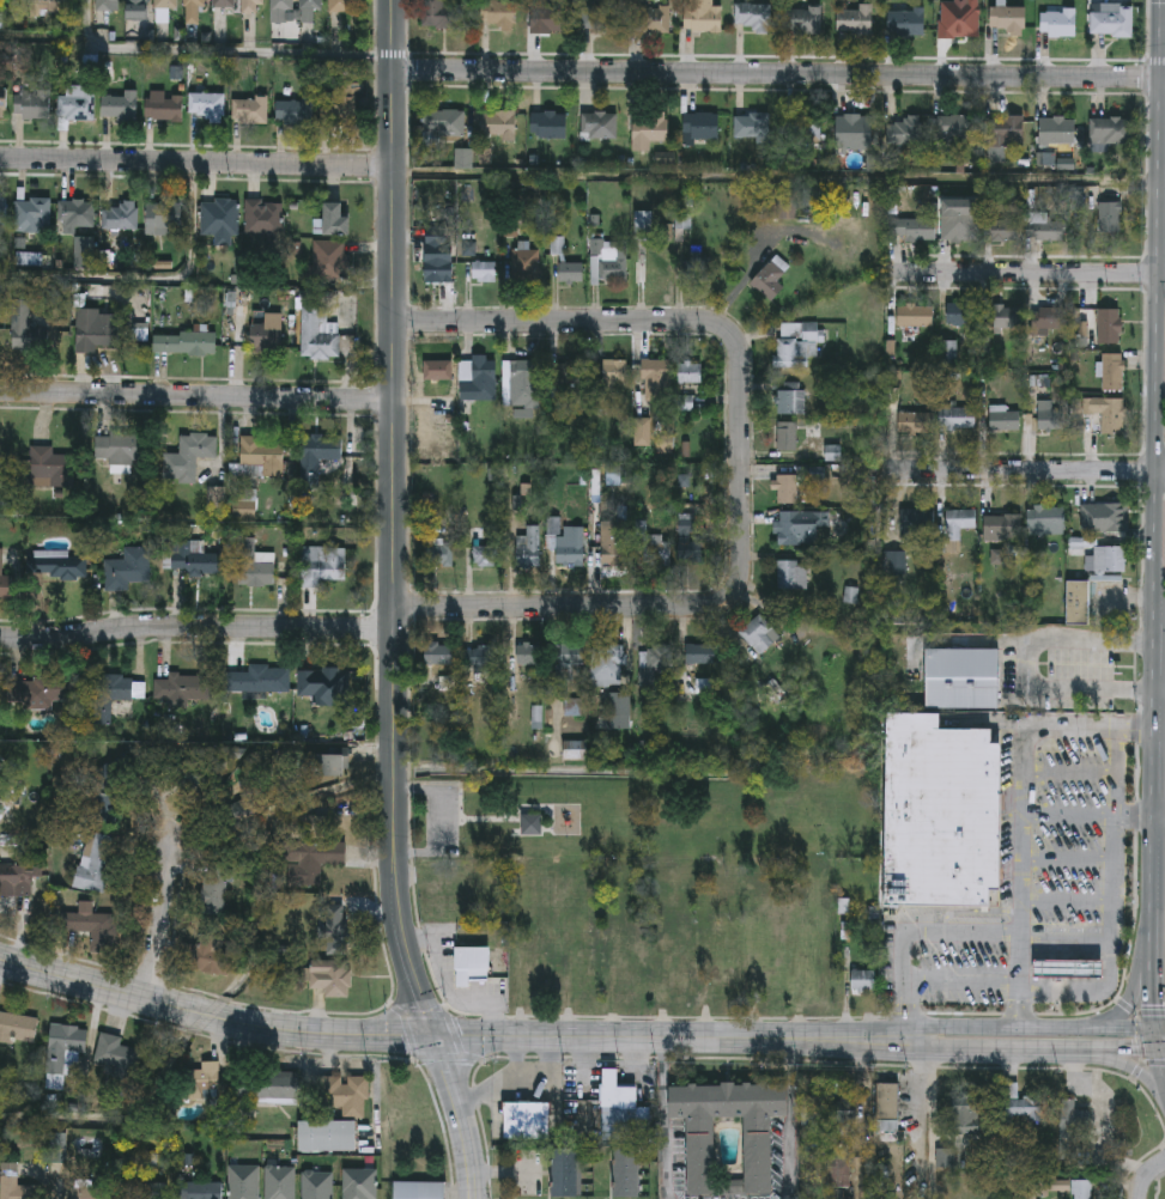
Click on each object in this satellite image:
building: (166, 4)
building: (224, 4)
building: (108, 5)
building: (136, 5)
building: (253, 6)
building: (283, 6)
building: (310, 6)
building: (340, 6)
building: (194, 11)
building: (499, 13)
building: (971, 13)
building: (447, 14)
road: (1157, 14)
building: (601, 16)
building: (554, 17)
building: (703, 17)
building: (753, 17)
building: (651, 18)
building: (855, 19)
building: (1008, 19)
building: (805, 20)
building: (1112, 20)
building: (906, 22)
building: (1058, 23)
road: (1160, 30)
road: (44, 39)
road: (219, 53)
road: (778, 69)
road: (1155, 92)
building: (2, 102)
building: (34, 104)
building: (208, 104)
building: (77, 106)
building: (120, 106)
building: (340, 106)
building: (165, 109)
building: (250, 109)
building: (298, 110)
building: (445, 123)
building: (499, 124)
building: (551, 124)
building: (599, 124)
building: (702, 126)
building: (752, 126)
building: (803, 126)
building: (855, 127)
building: (955, 128)
building: (1007, 128)
building: (649, 130)
building: (905, 130)
building: (1058, 130)
building: (1111, 130)
road: (195, 163)
road: (773, 177)
road: (1154, 182)
building: (1081, 197)
road: (1159, 208)
building: (4, 211)
building: (34, 212)
building: (121, 215)
building: (219, 217)
building: (1110, 217)
building: (164, 218)
building: (263, 218)
building: (333, 221)
building: (80, 227)
building: (964, 227)
building: (1048, 227)
building: (917, 230)
building: (1003, 230)
building: (330, 260)
building: (608, 261)
building: (523, 263)
building: (656, 266)
building: (698, 266)
building: (439, 268)
building: (484, 270)
building: (571, 272)
road: (1029, 272)
building: (770, 279)
road: (151, 282)
building: (963, 314)
building: (916, 315)
building: (1008, 316)
building: (20, 317)
building: (1050, 318)
building: (1110, 325)
building: (104, 331)
building: (60, 333)
building: (318, 334)
building: (267, 336)
building: (184, 343)
building: (796, 345)
building: (437, 369)
building: (690, 371)
building: (1112, 371)
building: (569, 373)
building: (483, 381)
building: (656, 381)
building: (522, 383)
building: (608, 383)
road: (195, 396)
building: (790, 397)
road: (1154, 412)
building: (1106, 413)
building: (1050, 415)
building: (958, 418)
building: (1005, 419)
building: (916, 422)
building: (643, 431)
building: (787, 436)
building: (120, 448)
building: (262, 455)
building: (189, 457)
building: (320, 458)
road: (739, 463)
road: (1026, 467)
building: (51, 468)
building: (787, 489)
building: (1106, 518)
building: (1045, 519)
building: (959, 522)
building: (917, 523)
building: (794, 525)
building: (1002, 527)
building: (566, 542)
building: (614, 543)
building: (528, 548)
building: (656, 550)
building: (691, 552)
building: (439, 553)
building: (486, 555)
building: (194, 559)
building: (1110, 560)
building: (56, 565)
building: (251, 565)
building: (322, 565)
building: (128, 568)
building: (793, 574)
building: (5, 583)
road: (1128, 598)
building: (1078, 603)
road: (393, 604)
road: (196, 627)
building: (760, 633)
building: (527, 653)
building: (702, 653)
road: (1154, 653)
building: (439, 655)
building: (480, 658)
building: (660, 658)
building: (568, 659)
road: (1026, 663)
building: (608, 664)
road: (551, 674)
building: (961, 677)
building: (259, 678)
building: (323, 683)
building: (192, 687)
road: (1159, 689)
building: (47, 690)
building: (116, 695)
road: (1154, 754)
building: (107, 801)
building: (241, 808)
building: (941, 812)
road: (1135, 817)
road: (1159, 818)
building: (532, 823)
building: (311, 860)
building: (97, 862)
building: (17, 875)
road: (1020, 878)
park: (653, 883)
building: (217, 888)
road: (1114, 905)
road: (159, 923)
road: (1153, 923)
building: (90, 927)
building: (336, 929)
building: (212, 955)
building: (472, 966)
building: (1068, 970)
gas station: (1068, 970)
building: (330, 978)
building: (679, 978)
building: (635, 981)
building: (863, 981)
road: (1019, 982)
road: (1128, 993)
road: (1030, 1027)
traffic signals: (1151, 1027)
road: (1158, 1027)
building: (18, 1029)
traffic signals: (435, 1037)
road: (450, 1037)
road: (1152, 1039)
road: (1031, 1049)
traffic signals: (1154, 1051)
road: (1159, 1051)
building: (66, 1052)
road: (516, 1058)
building: (116, 1059)
road: (1128, 1066)
road: (1159, 1072)
road: (522, 1078)
building: (201, 1083)
building: (269, 1087)
building: (346, 1095)
building: (813, 1109)
building: (887, 1109)
building: (1025, 1110)
building: (619, 1112)
building: (965, 1116)
road: (665, 1119)
road: (793, 1119)
building: (1074, 1120)
building: (527, 1122)
road: (940, 1124)
building: (328, 1137)
building: (757, 1148)
building: (566, 1173)
building: (627, 1174)
building: (838, 1174)
road: (1147, 1179)
building: (280, 1181)
building: (244, 1182)
building: (359, 1183)
building: (317, 1185)
building: (89, 1189)
building: (1082, 1189)
building: (139, 1191)
building: (196, 1191)
building: (419, 1191)

